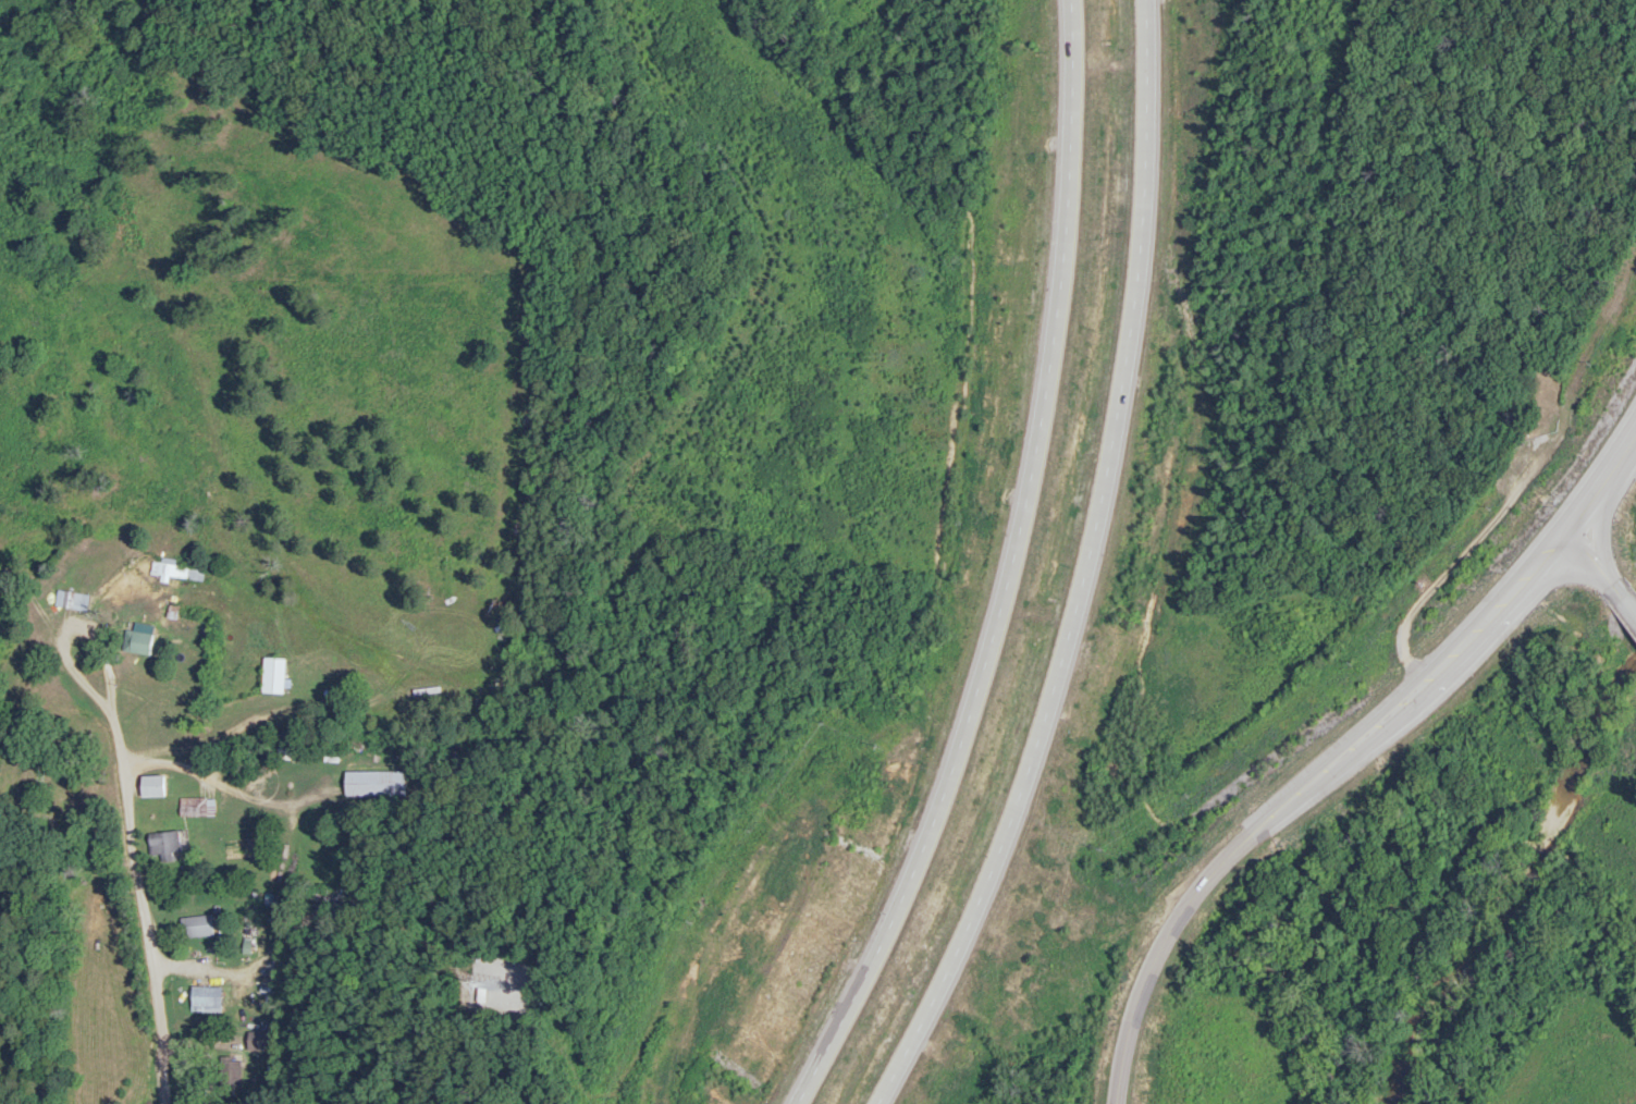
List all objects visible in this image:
road: (1005, 571)
building: (174, 572)
road: (1600, 572)
road: (1100, 575)
building: (73, 600)
building: (143, 638)
building: (272, 675)
road: (1344, 755)
park: (51, 768)
building: (376, 783)
building: (155, 785)
building: (193, 807)
road: (144, 915)
building: (199, 927)
building: (208, 996)
building: (260, 1041)

